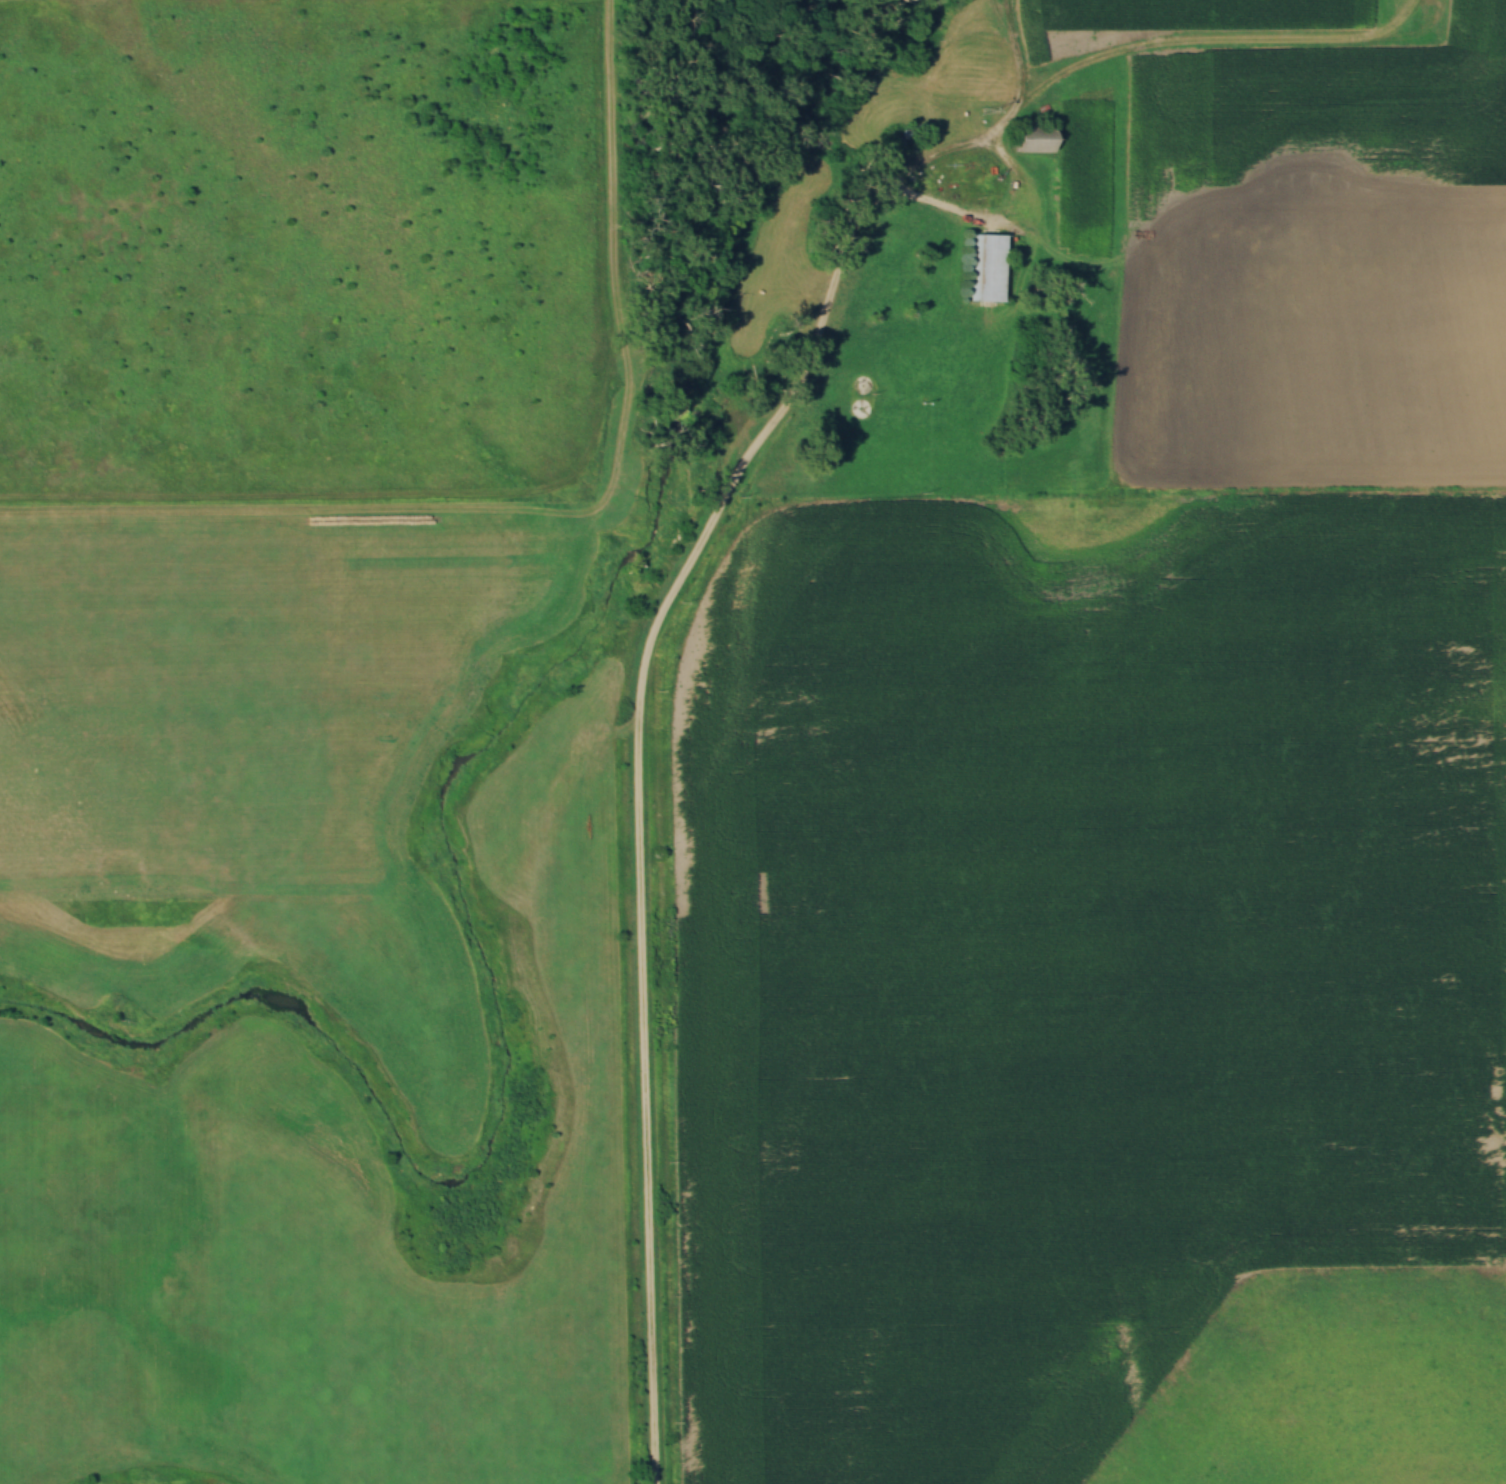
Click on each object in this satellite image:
building: (1028, 139)
road: (608, 181)
building: (987, 268)
road: (639, 773)
river: (441, 807)

